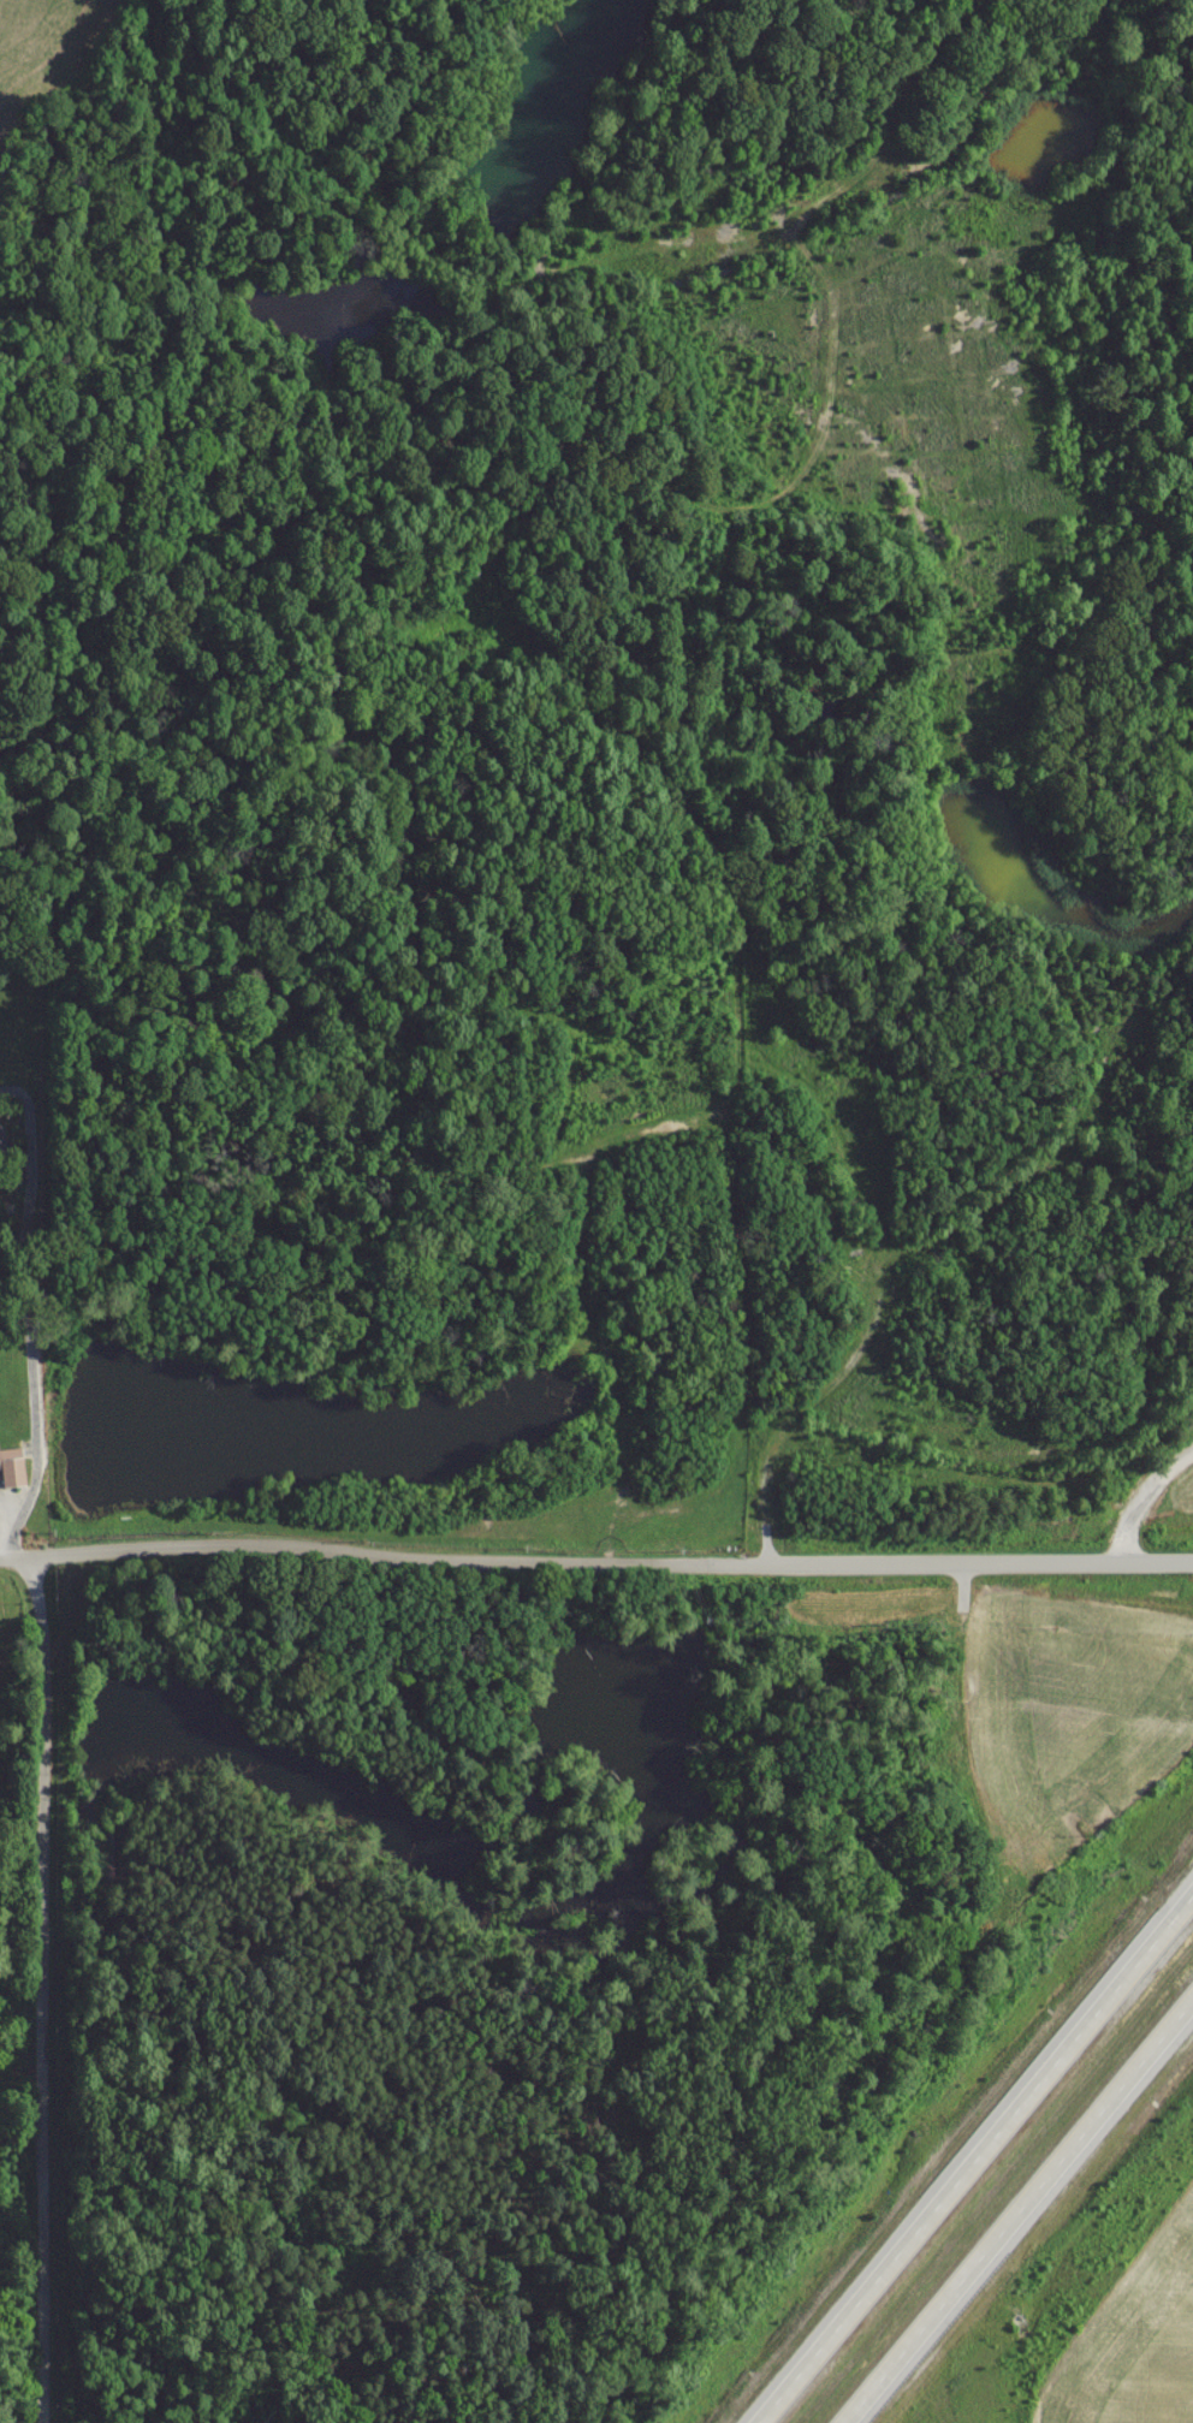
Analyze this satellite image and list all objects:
road: (29, 1123)
road: (16, 1157)
road: (28, 1296)
building: (10, 1475)
road: (31, 1495)
road: (1140, 1502)
road: (595, 1566)
road: (44, 1994)
road: (962, 2146)
road: (1020, 2210)

